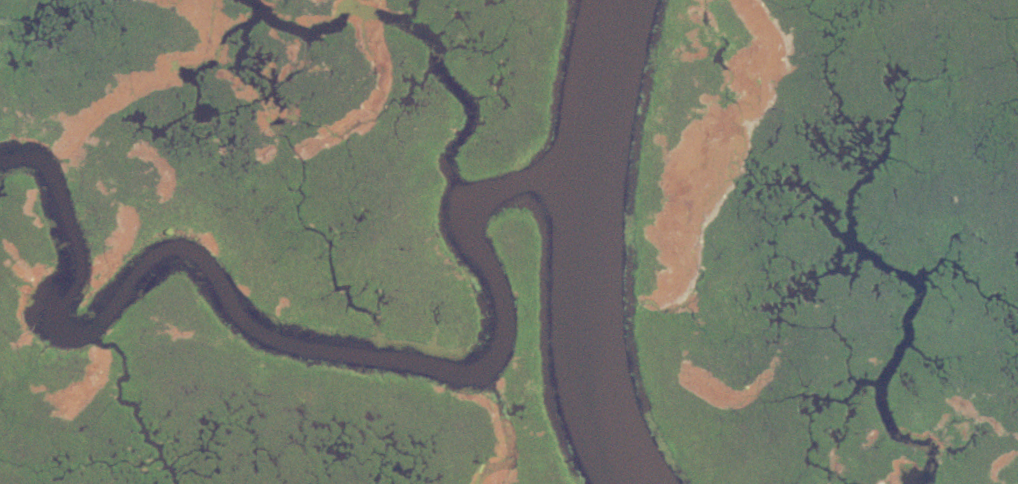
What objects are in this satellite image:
river: (588, 243)

